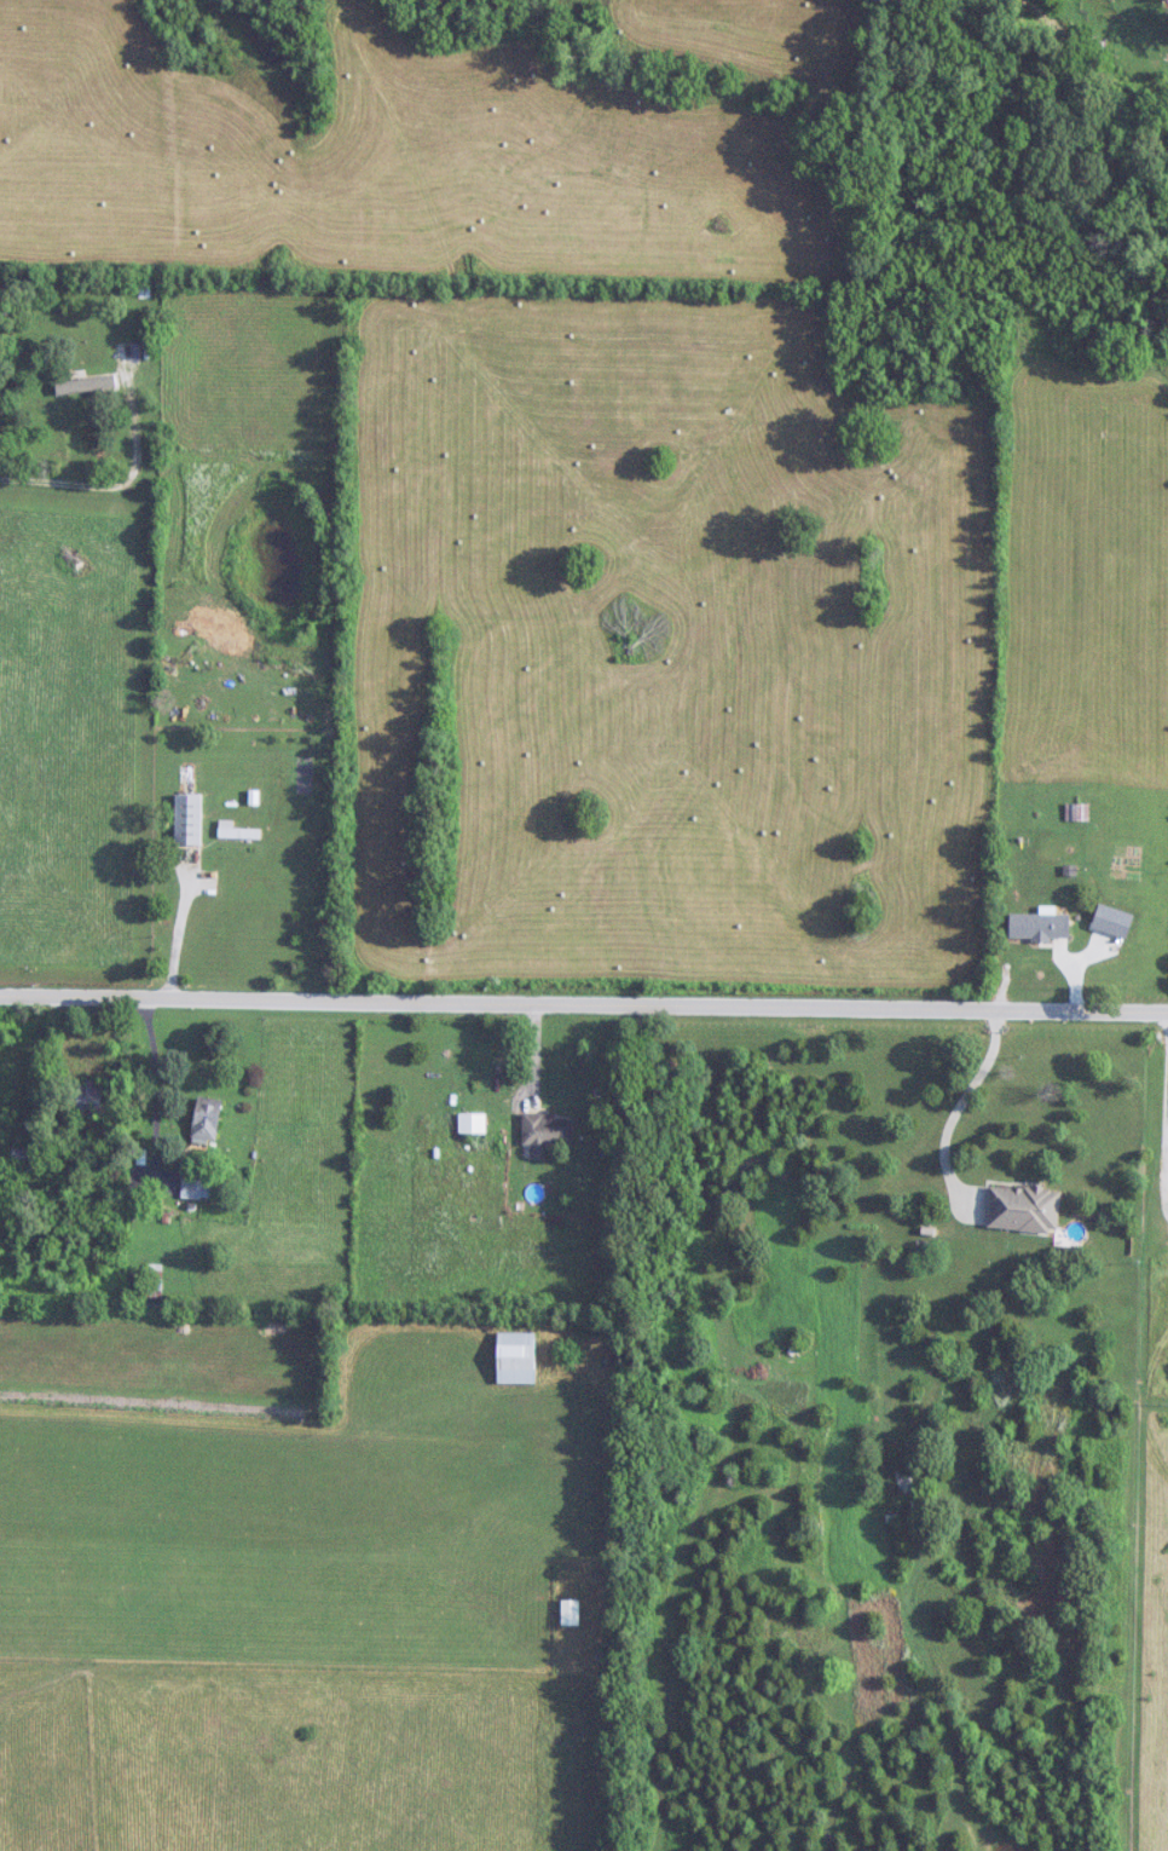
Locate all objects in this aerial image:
building: (127, 354)
building: (86, 385)
road: (114, 482)
building: (1079, 812)
building: (189, 819)
building: (237, 831)
building: (1040, 928)
road: (173, 929)
road: (583, 1002)
building: (89, 1102)
building: (207, 1120)
building: (475, 1124)
building: (547, 1134)
building: (22, 1157)
building: (196, 1186)
building: (155, 1278)
building: (516, 1350)
building: (571, 1613)

